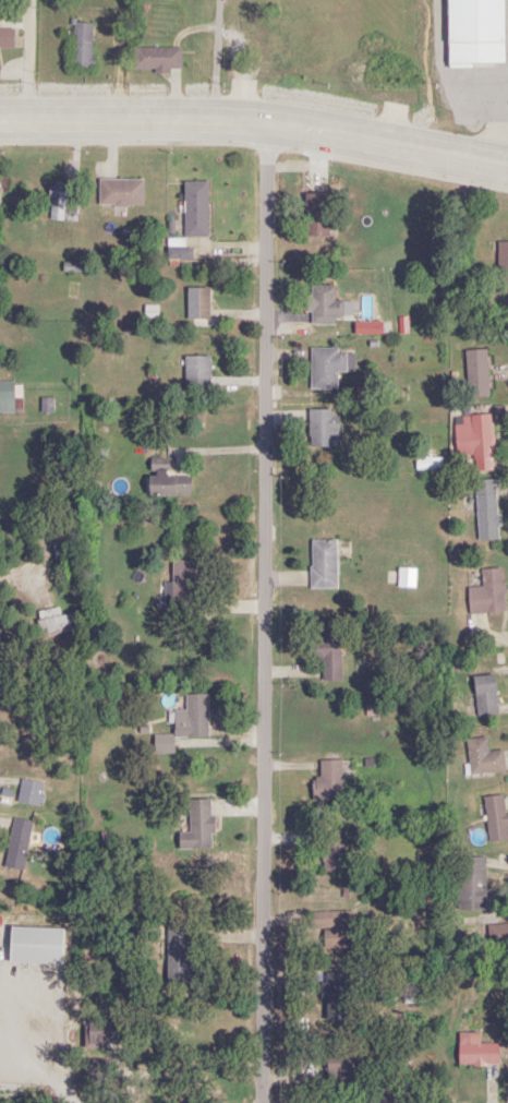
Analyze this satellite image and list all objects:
building: (474, 33)
building: (5, 39)
building: (82, 45)
building: (258, 53)
road: (22, 57)
road: (213, 58)
building: (156, 59)
road: (256, 118)
building: (503, 183)
building: (121, 192)
building: (57, 201)
building: (195, 208)
building: (315, 215)
building: (179, 254)
building: (501, 268)
building: (197, 303)
building: (325, 305)
building: (326, 368)
building: (196, 372)
building: (476, 373)
building: (7, 397)
building: (323, 429)
building: (474, 441)
building: (166, 480)
building: (486, 511)
building: (68, 512)
building: (323, 565)
building: (61, 568)
building: (180, 590)
road: (37, 591)
building: (486, 595)
road: (273, 612)
building: (55, 623)
building: (327, 652)
building: (485, 696)
building: (185, 723)
building: (483, 758)
building: (329, 780)
building: (29, 792)
building: (495, 818)
road: (9, 825)
building: (197, 826)
building: (17, 844)
building: (332, 853)
building: (470, 884)
road: (31, 924)
building: (331, 927)
building: (497, 935)
building: (35, 945)
building: (336, 995)
building: (101, 1032)
building: (475, 1051)
building: (95, 1068)
building: (346, 1068)

